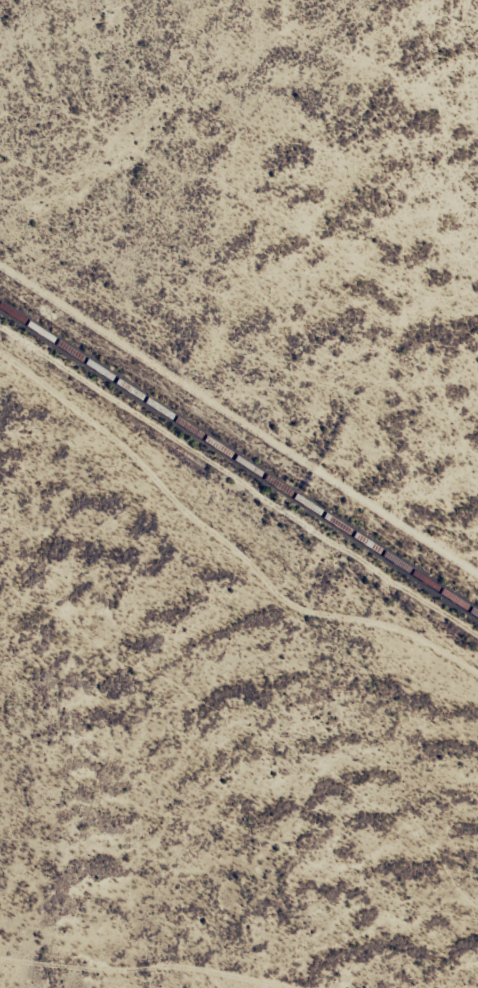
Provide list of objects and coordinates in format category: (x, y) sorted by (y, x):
railway: (239, 458)
road: (239, 528)

